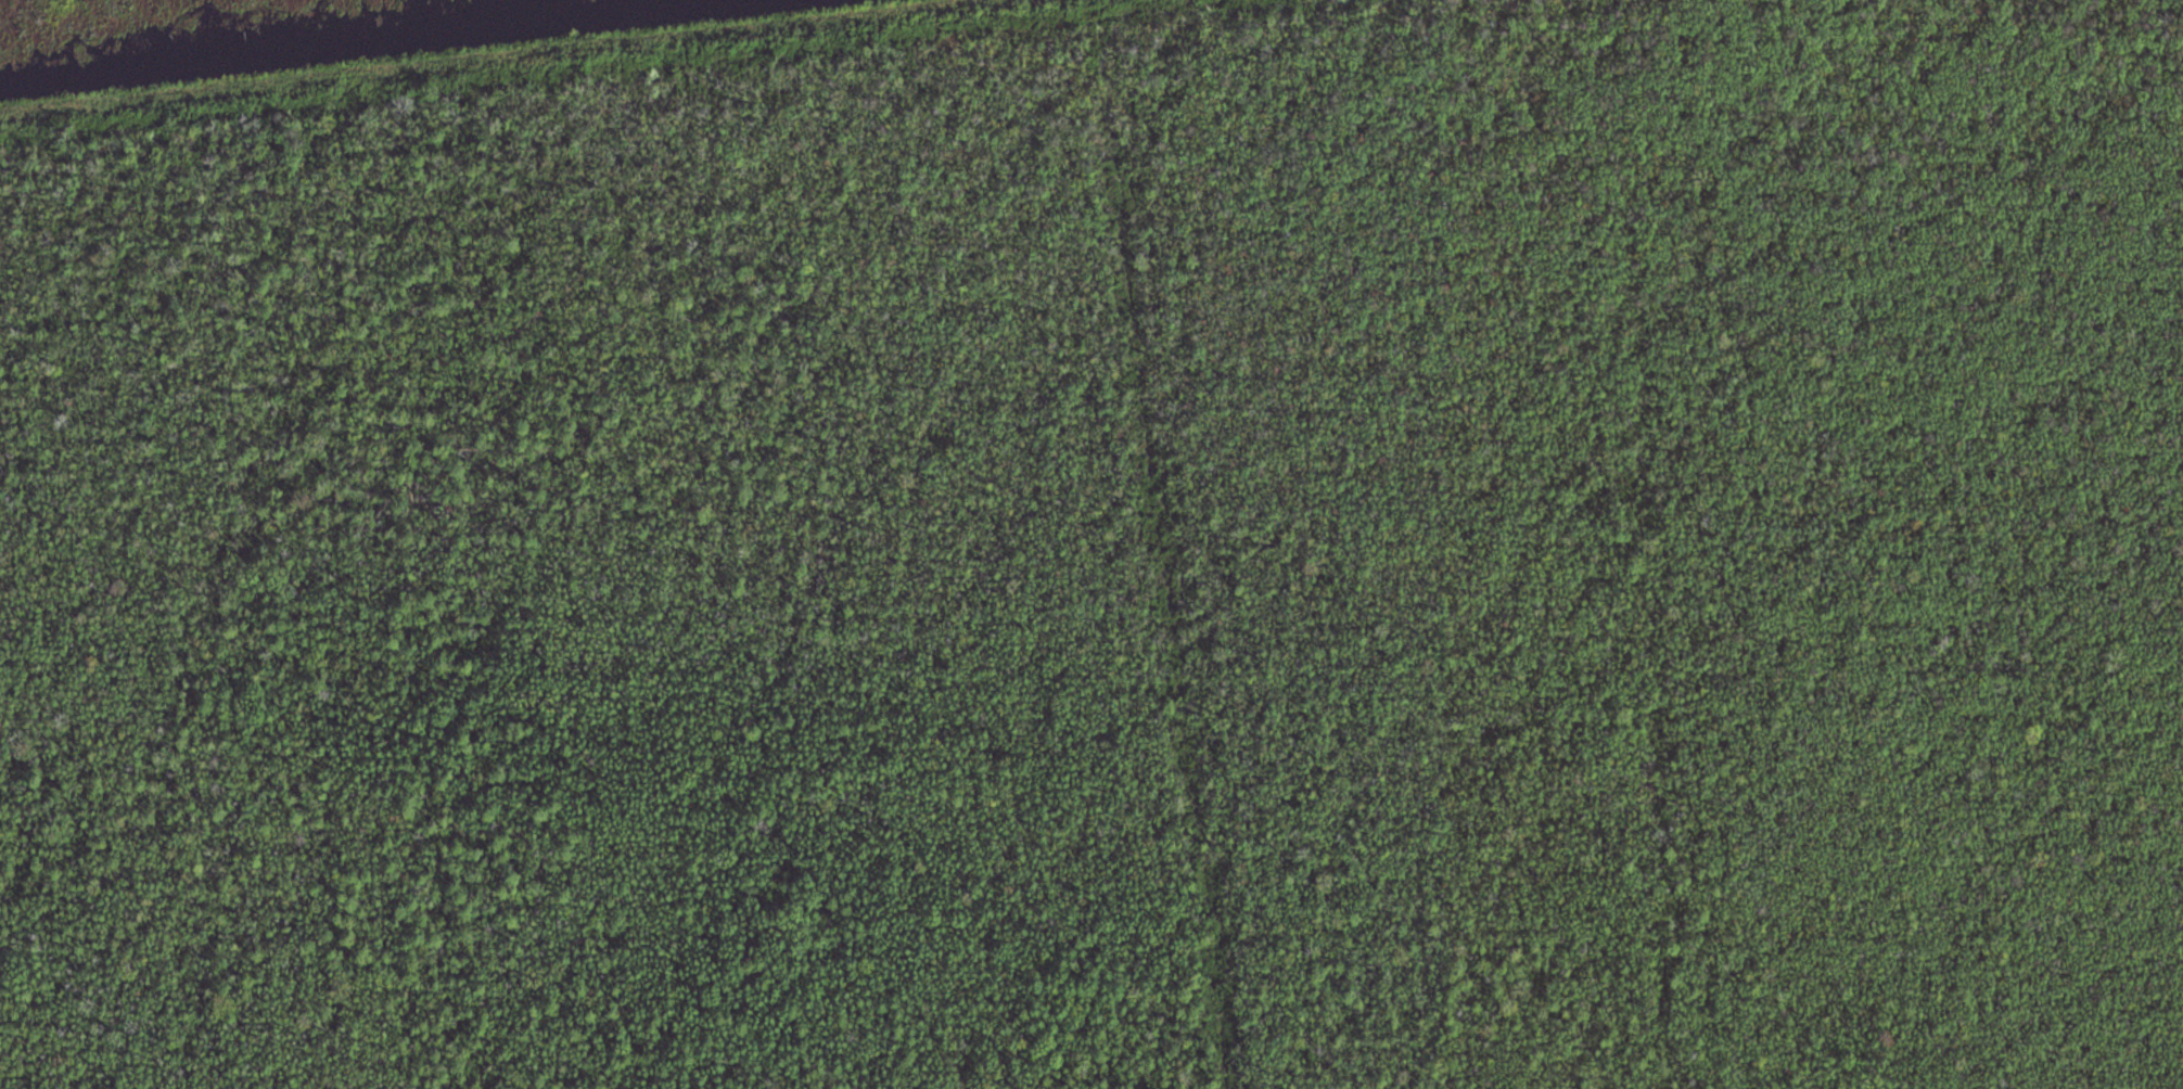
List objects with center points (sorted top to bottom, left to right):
road: (514, 57)

